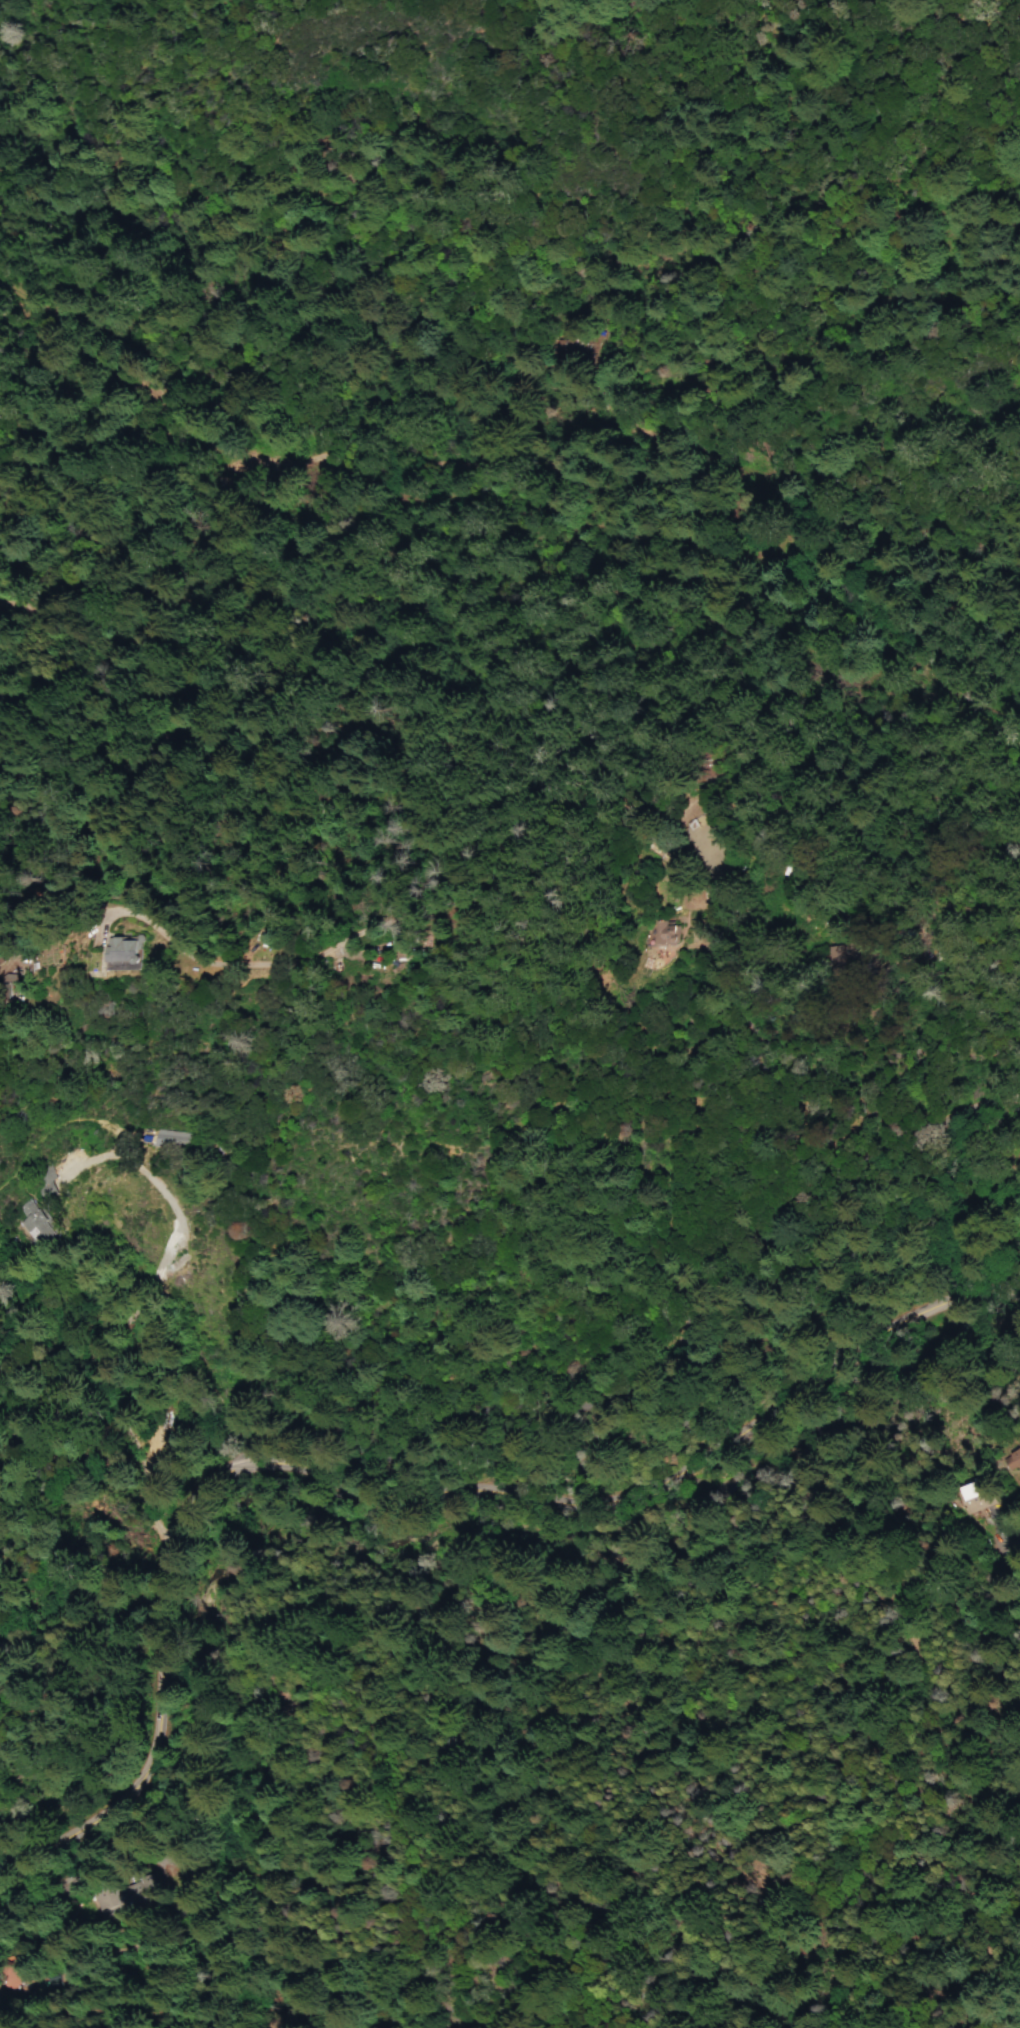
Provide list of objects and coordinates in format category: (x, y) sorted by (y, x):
road: (320, 476)
road: (628, 815)
crop: (854, 878)
building: (659, 932)
road: (851, 933)
building: (121, 950)
building: (831, 959)
building: (166, 1138)
building: (42, 1182)
building: (28, 1223)
road: (153, 1273)
road: (1017, 1286)
road: (651, 1370)
building: (129, 1438)
road: (688, 1454)
building: (1014, 1456)
road: (240, 1462)
road: (294, 1465)
building: (965, 1490)
road: (1011, 1545)
road: (997, 1582)
road: (905, 1649)
road: (137, 1678)
road: (281, 1708)
road: (660, 1743)
crop: (222, 1855)
building: (117, 1891)
building: (8, 1977)

